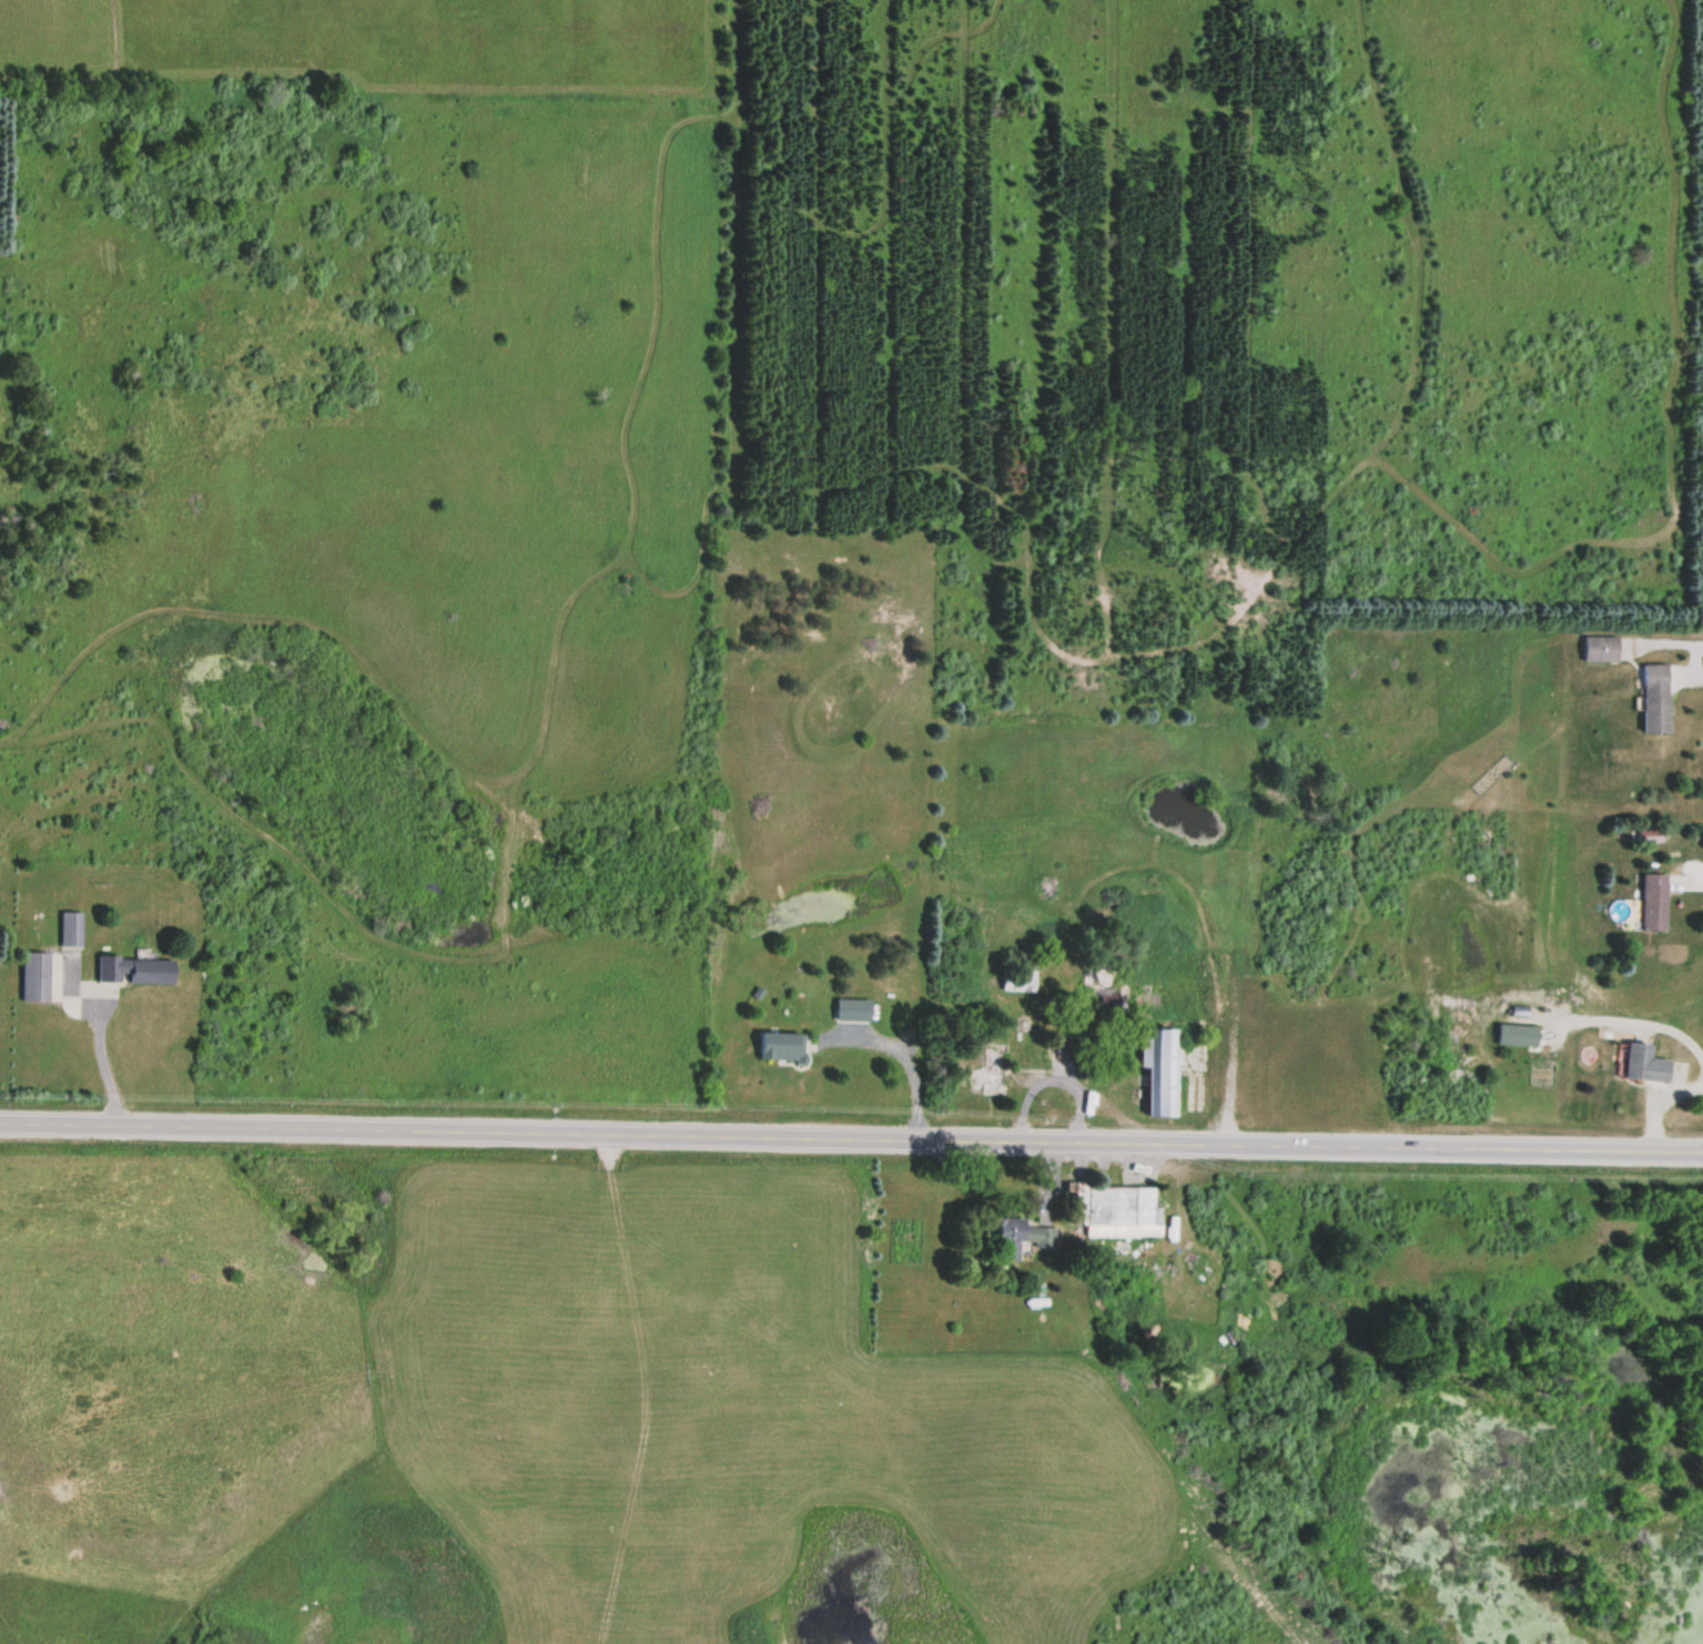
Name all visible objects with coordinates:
building: (1600, 649)
building: (1654, 698)
building: (1652, 902)
building: (69, 928)
building: (134, 970)
building: (34, 976)
building: (1017, 978)
building: (1104, 988)
building: (853, 1008)
building: (780, 1046)
building: (1644, 1064)
building: (990, 1068)
building: (1157, 1072)
road: (851, 1134)
building: (1115, 1209)
building: (1022, 1237)

